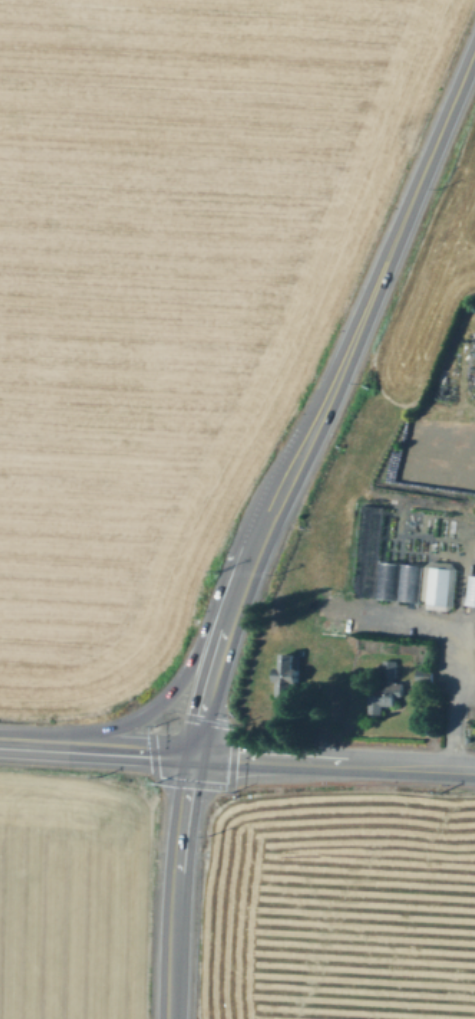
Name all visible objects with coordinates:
crop: (164, 288)
road: (326, 394)
crop: (389, 534)
building: (401, 580)
building: (445, 587)
building: (470, 589)
road: (460, 598)
road: (196, 647)
road: (458, 649)
building: (303, 652)
building: (289, 676)
building: (426, 676)
building: (385, 691)
road: (466, 701)
road: (38, 742)
road: (134, 748)
traffic signals: (193, 751)
road: (333, 758)
road: (176, 884)
crop: (233, 902)

